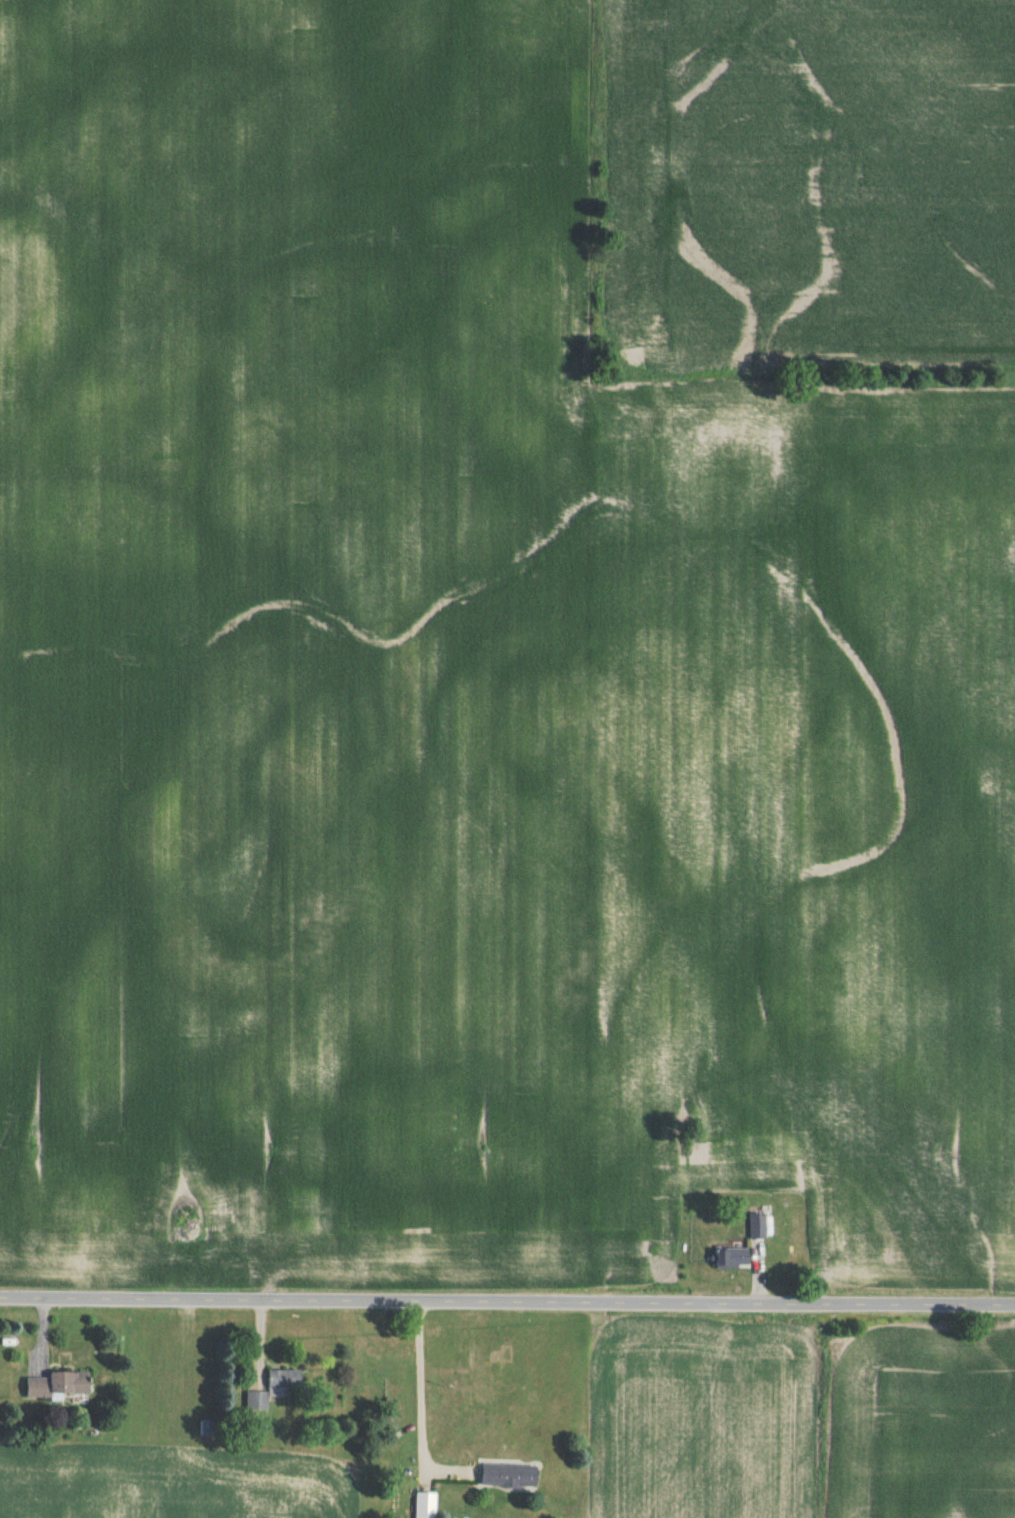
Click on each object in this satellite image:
building: (754, 1225)
building: (727, 1260)
road: (507, 1301)
building: (280, 1383)
building: (55, 1388)
road: (418, 1389)
building: (253, 1405)
building: (504, 1479)
building: (422, 1507)

